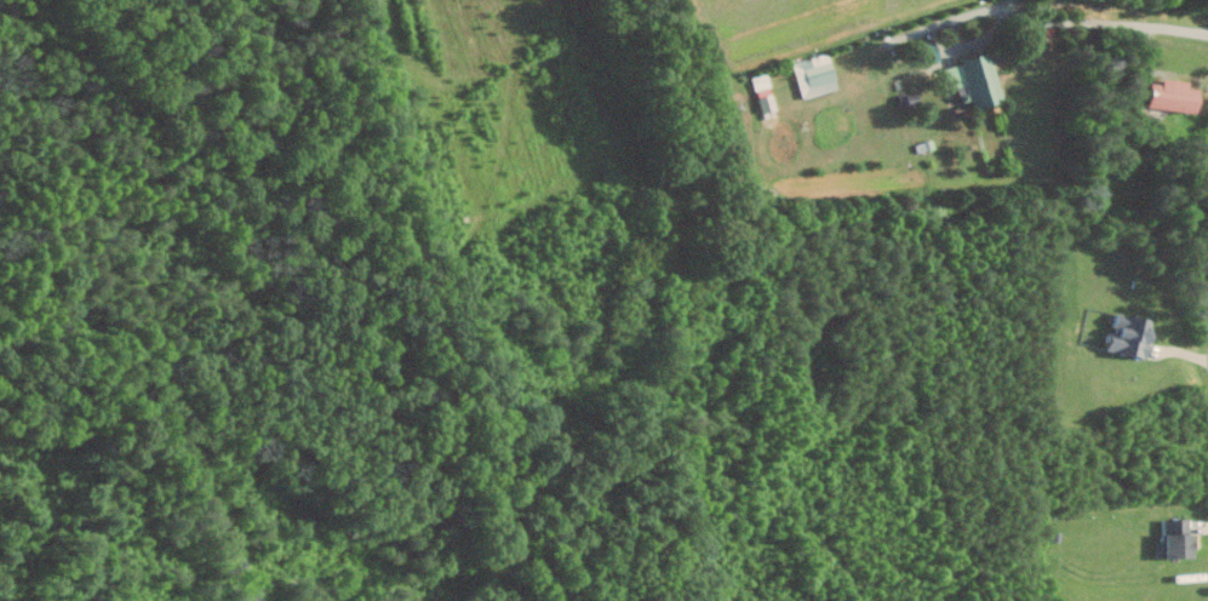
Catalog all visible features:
road: (1149, 33)
building: (817, 74)
building: (978, 79)
building: (1175, 95)
building: (768, 101)
building: (1207, 264)
building: (1134, 333)
building: (1179, 538)

